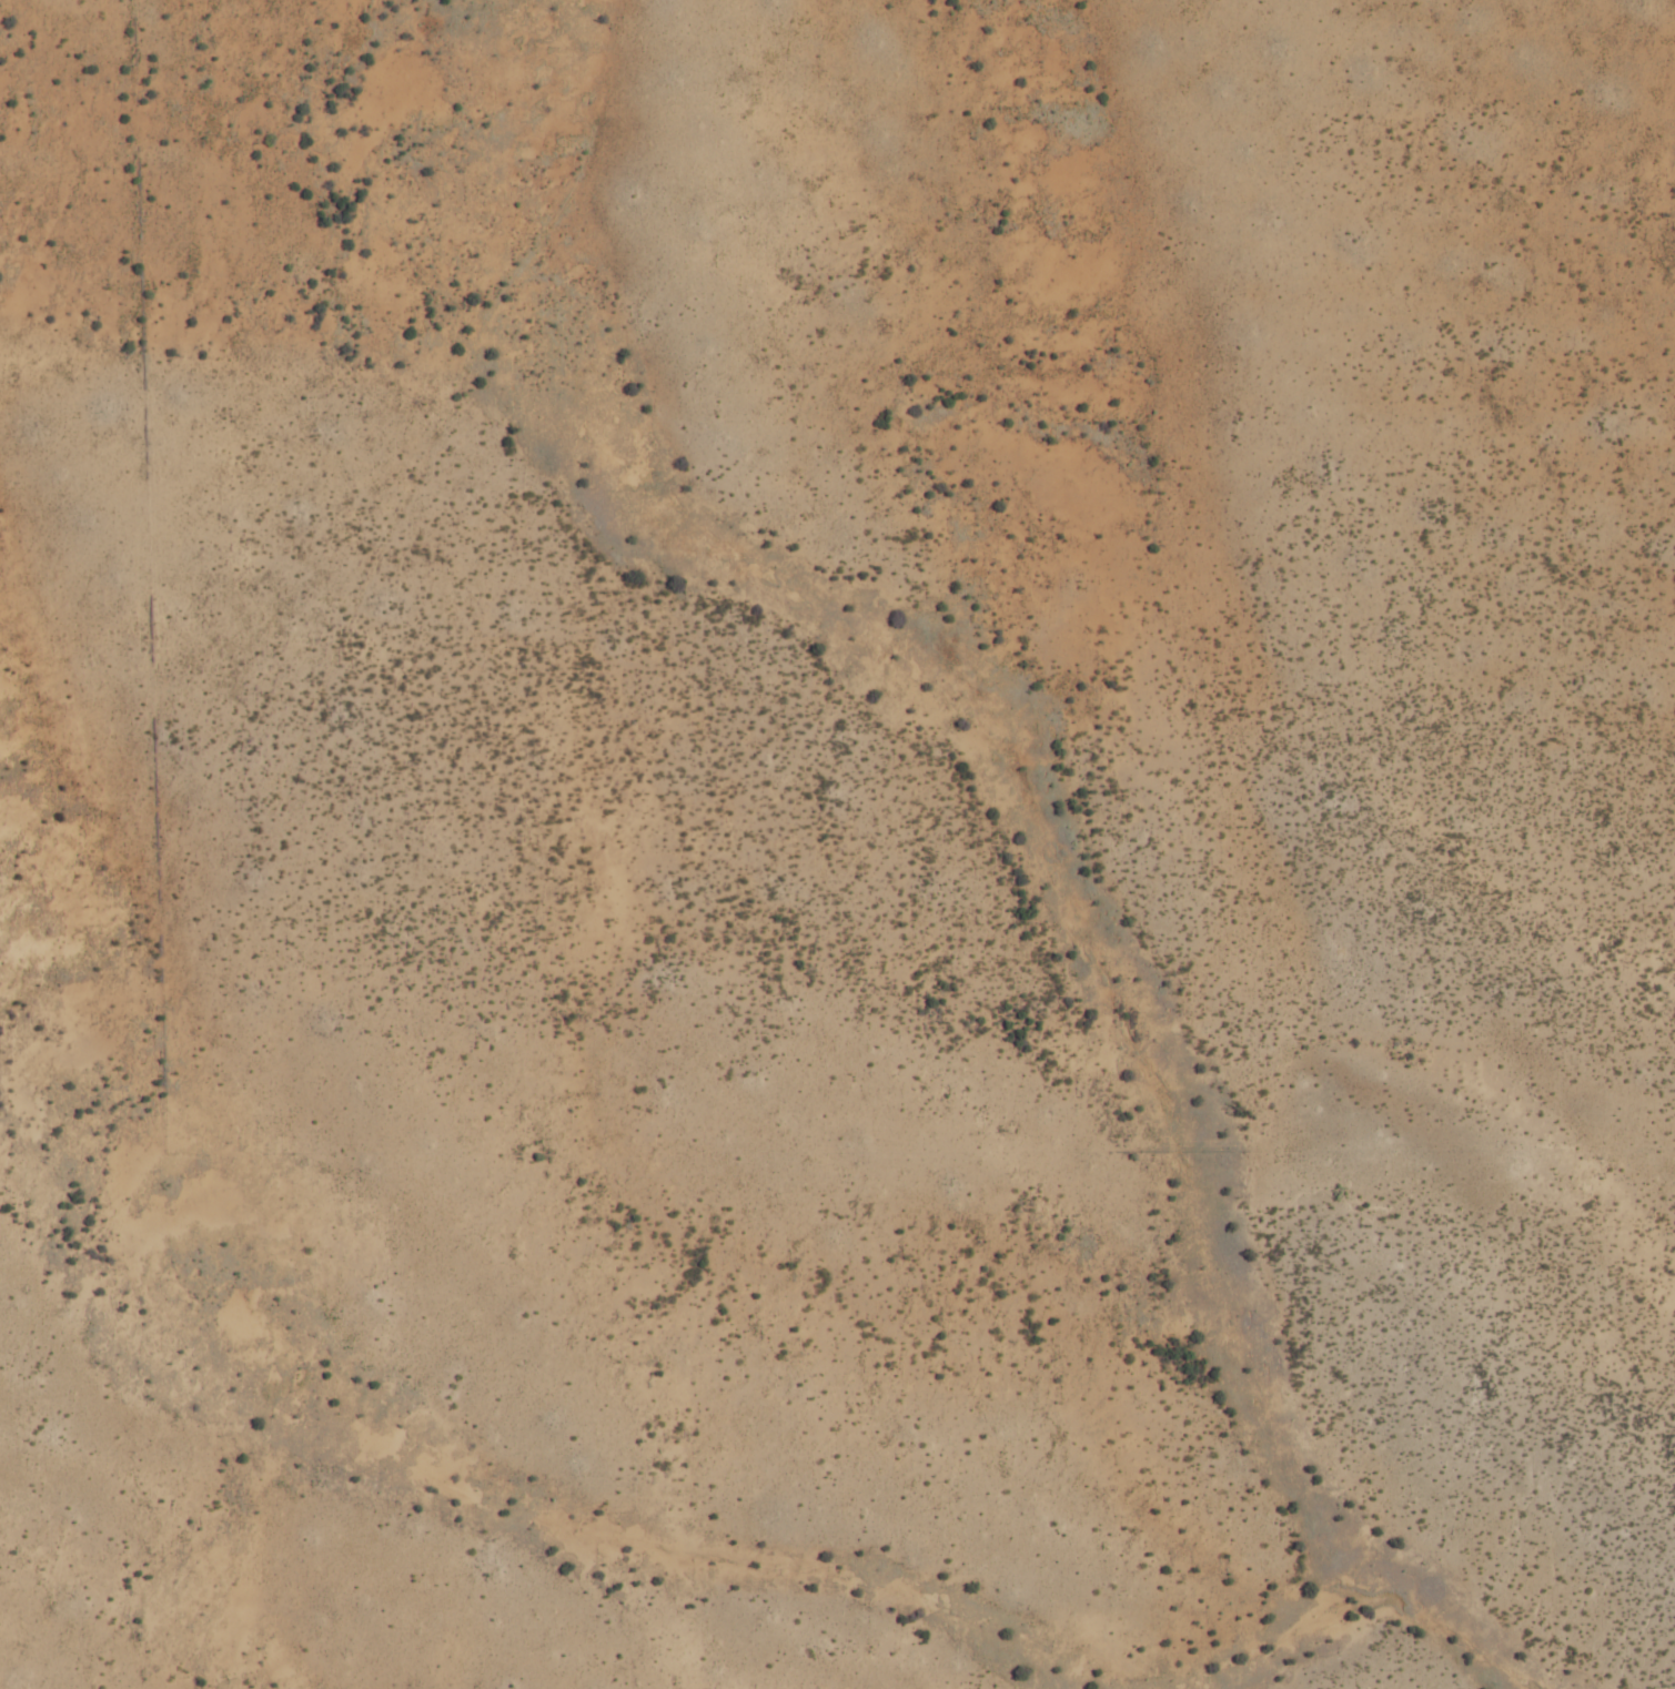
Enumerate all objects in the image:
road: (296, 658)

